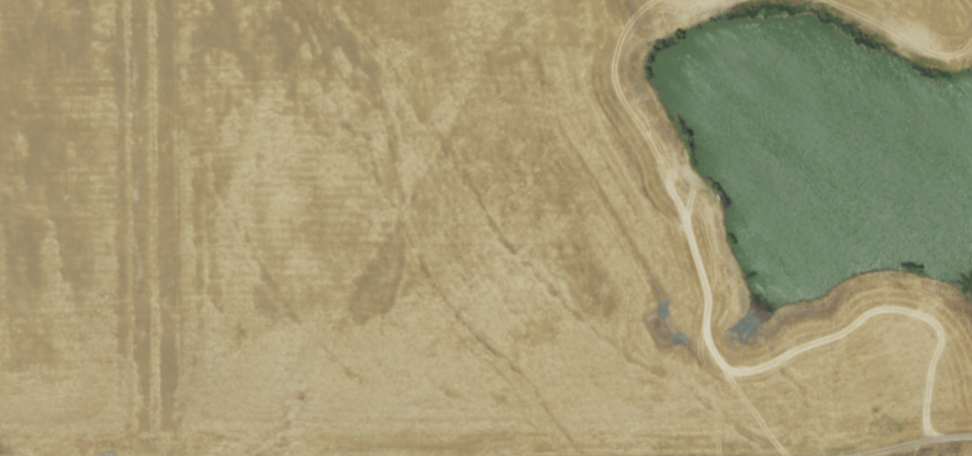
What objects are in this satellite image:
road: (910, 442)

